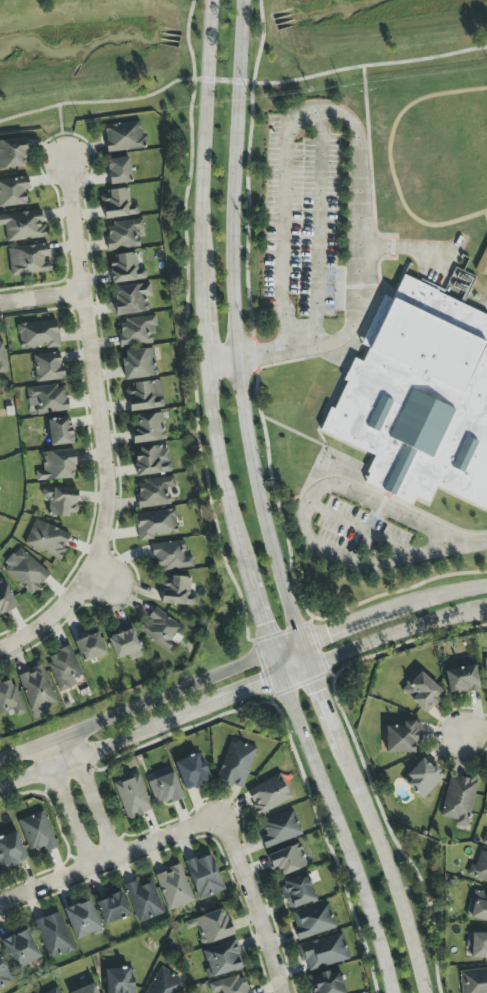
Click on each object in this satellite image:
road: (241, 83)
road: (59, 132)
building: (123, 137)
road: (206, 149)
building: (12, 153)
road: (371, 164)
building: (118, 171)
building: (13, 191)
building: (117, 204)
road: (283, 216)
building: (22, 226)
road: (320, 227)
road: (358, 232)
building: (123, 234)
road: (405, 248)
road: (451, 254)
building: (28, 260)
building: (482, 263)
building: (126, 269)
building: (131, 299)
road: (38, 301)
road: (205, 329)
building: (136, 331)
building: (38, 334)
road: (275, 351)
building: (1, 357)
road: (222, 360)
building: (139, 363)
building: (47, 367)
building: (144, 396)
building: (47, 399)
building: (422, 401)
building: (149, 428)
building: (59, 431)
road: (105, 433)
building: (152, 460)
building: (57, 466)
road: (220, 467)
building: (153, 492)
building: (60, 501)
road: (263, 508)
road: (302, 516)
building: (155, 524)
road: (361, 529)
building: (46, 539)
road: (476, 543)
building: (169, 556)
building: (25, 571)
building: (176, 591)
building: (5, 598)
road: (259, 612)
road: (377, 614)
building: (162, 631)
road: (381, 639)
building: (125, 645)
building: (89, 647)
road: (275, 666)
building: (63, 668)
building: (485, 670)
building: (461, 679)
building: (36, 691)
building: (421, 691)
building: (9, 698)
road: (136, 707)
road: (477, 728)
road: (141, 736)
building: (402, 737)
building: (236, 764)
building: (191, 771)
building: (422, 778)
building: (163, 787)
building: (269, 794)
building: (132, 796)
road: (91, 797)
building: (458, 800)
road: (65, 808)
building: (279, 829)
building: (37, 832)
road: (338, 835)
building: (484, 839)
building: (10, 850)
building: (287, 859)
road: (109, 861)
building: (480, 867)
building: (204, 876)
building: (173, 888)
building: (298, 891)
building: (144, 899)
road: (253, 904)
building: (111, 906)
building: (478, 906)
building: (82, 920)
building: (312, 921)
building: (211, 926)
building: (53, 935)
building: (479, 945)
building: (20, 949)
building: (324, 952)
building: (221, 959)
building: (4, 974)
building: (118, 981)
building: (473, 981)
building: (164, 983)
building: (327, 983)
building: (230, 985)
building: (86, 989)
building: (54, 991)

